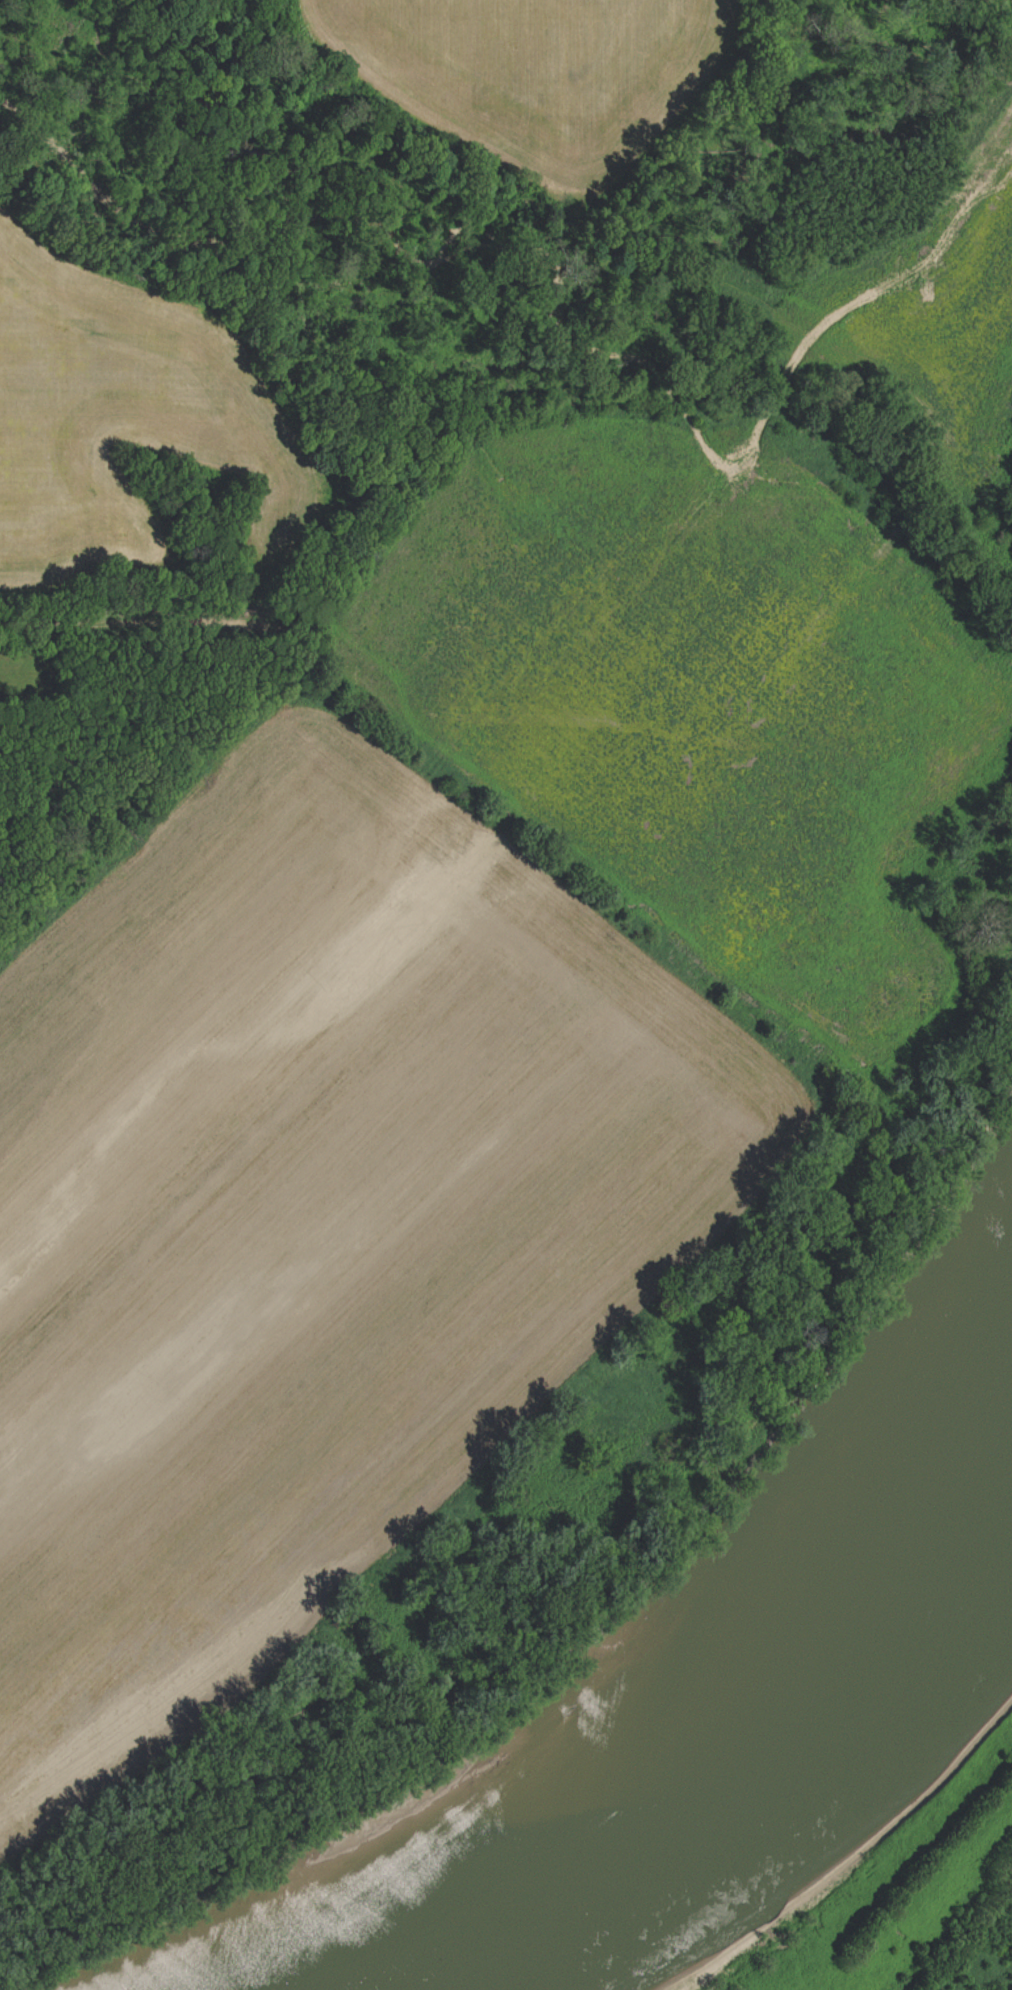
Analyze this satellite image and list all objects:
river: (729, 1781)

